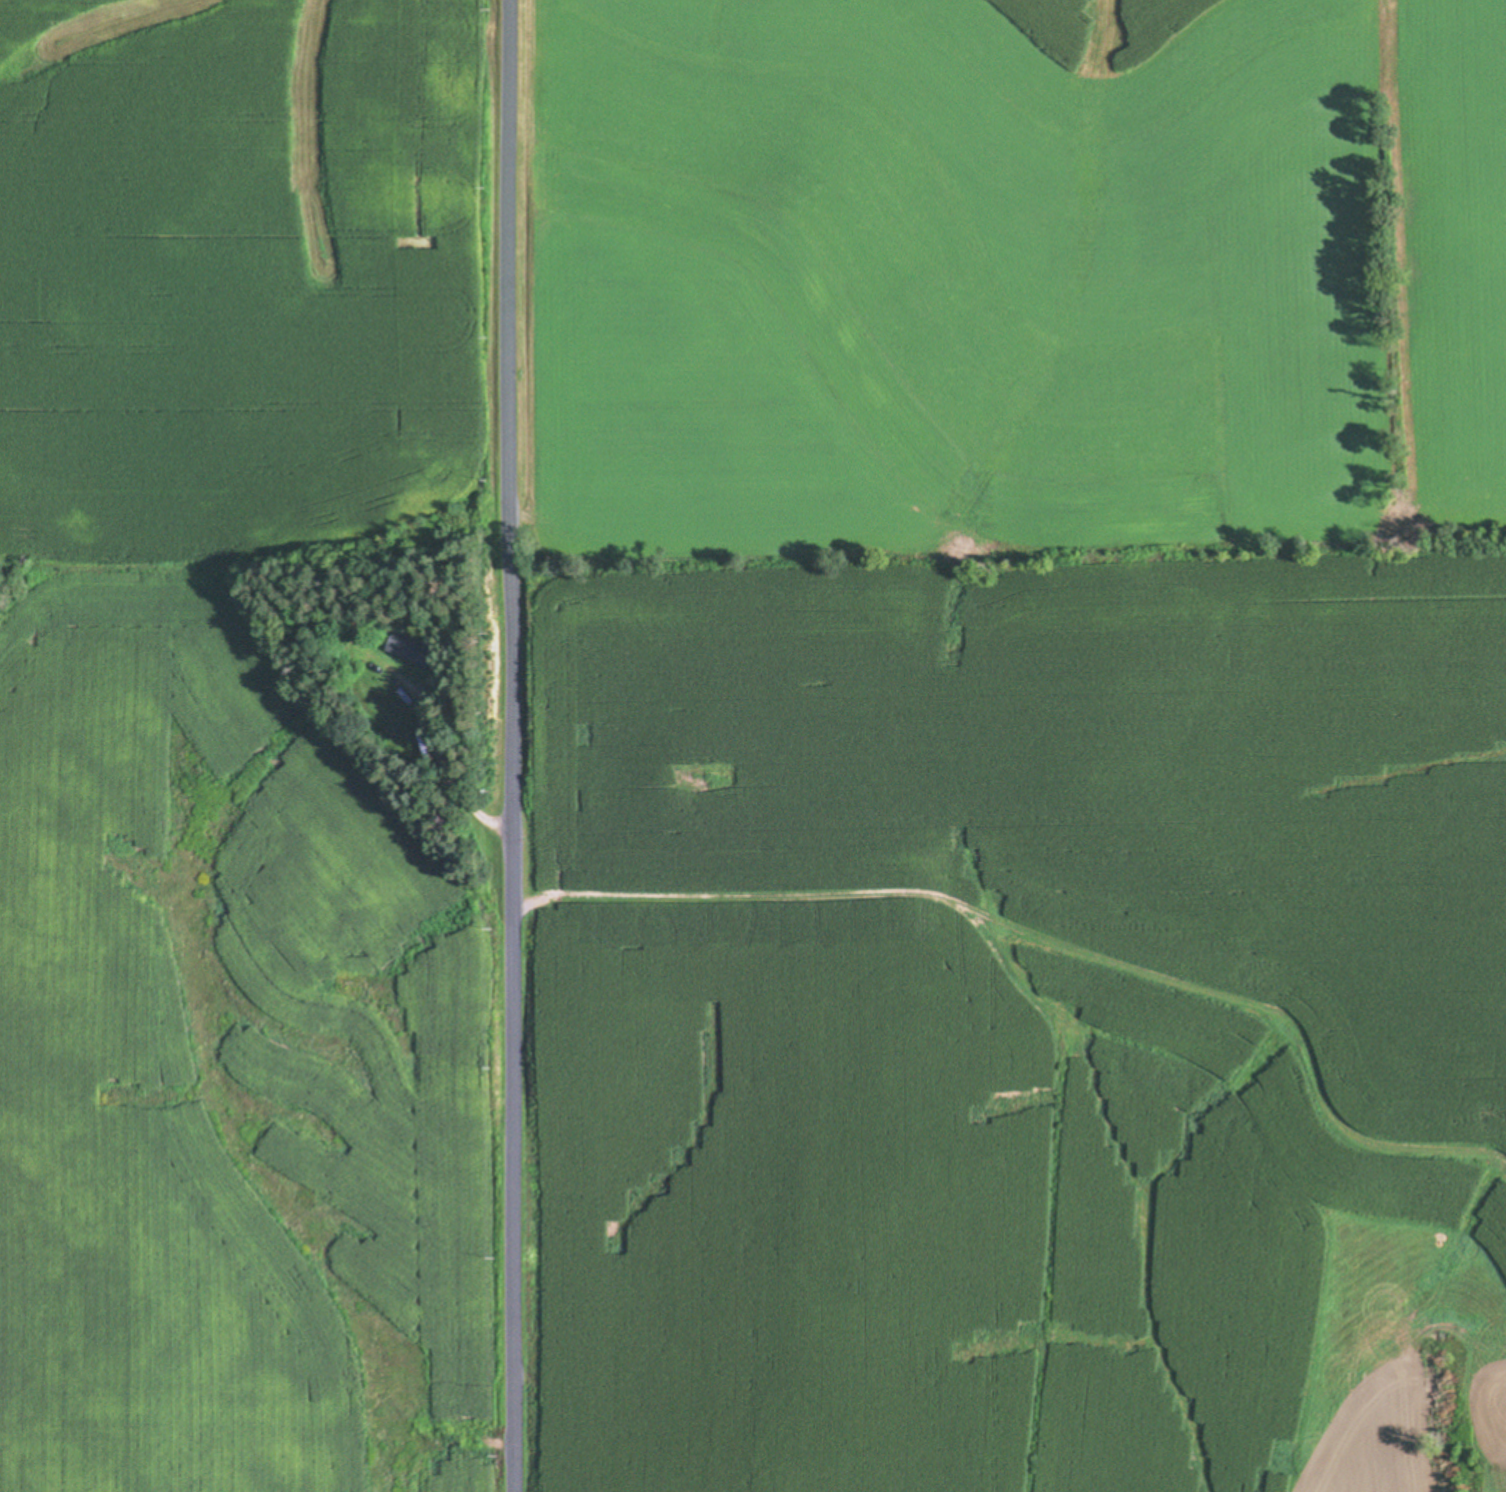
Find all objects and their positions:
building: (406, 649)
crop: (1012, 745)
road: (511, 746)
crop: (236, 753)
road: (450, 780)

